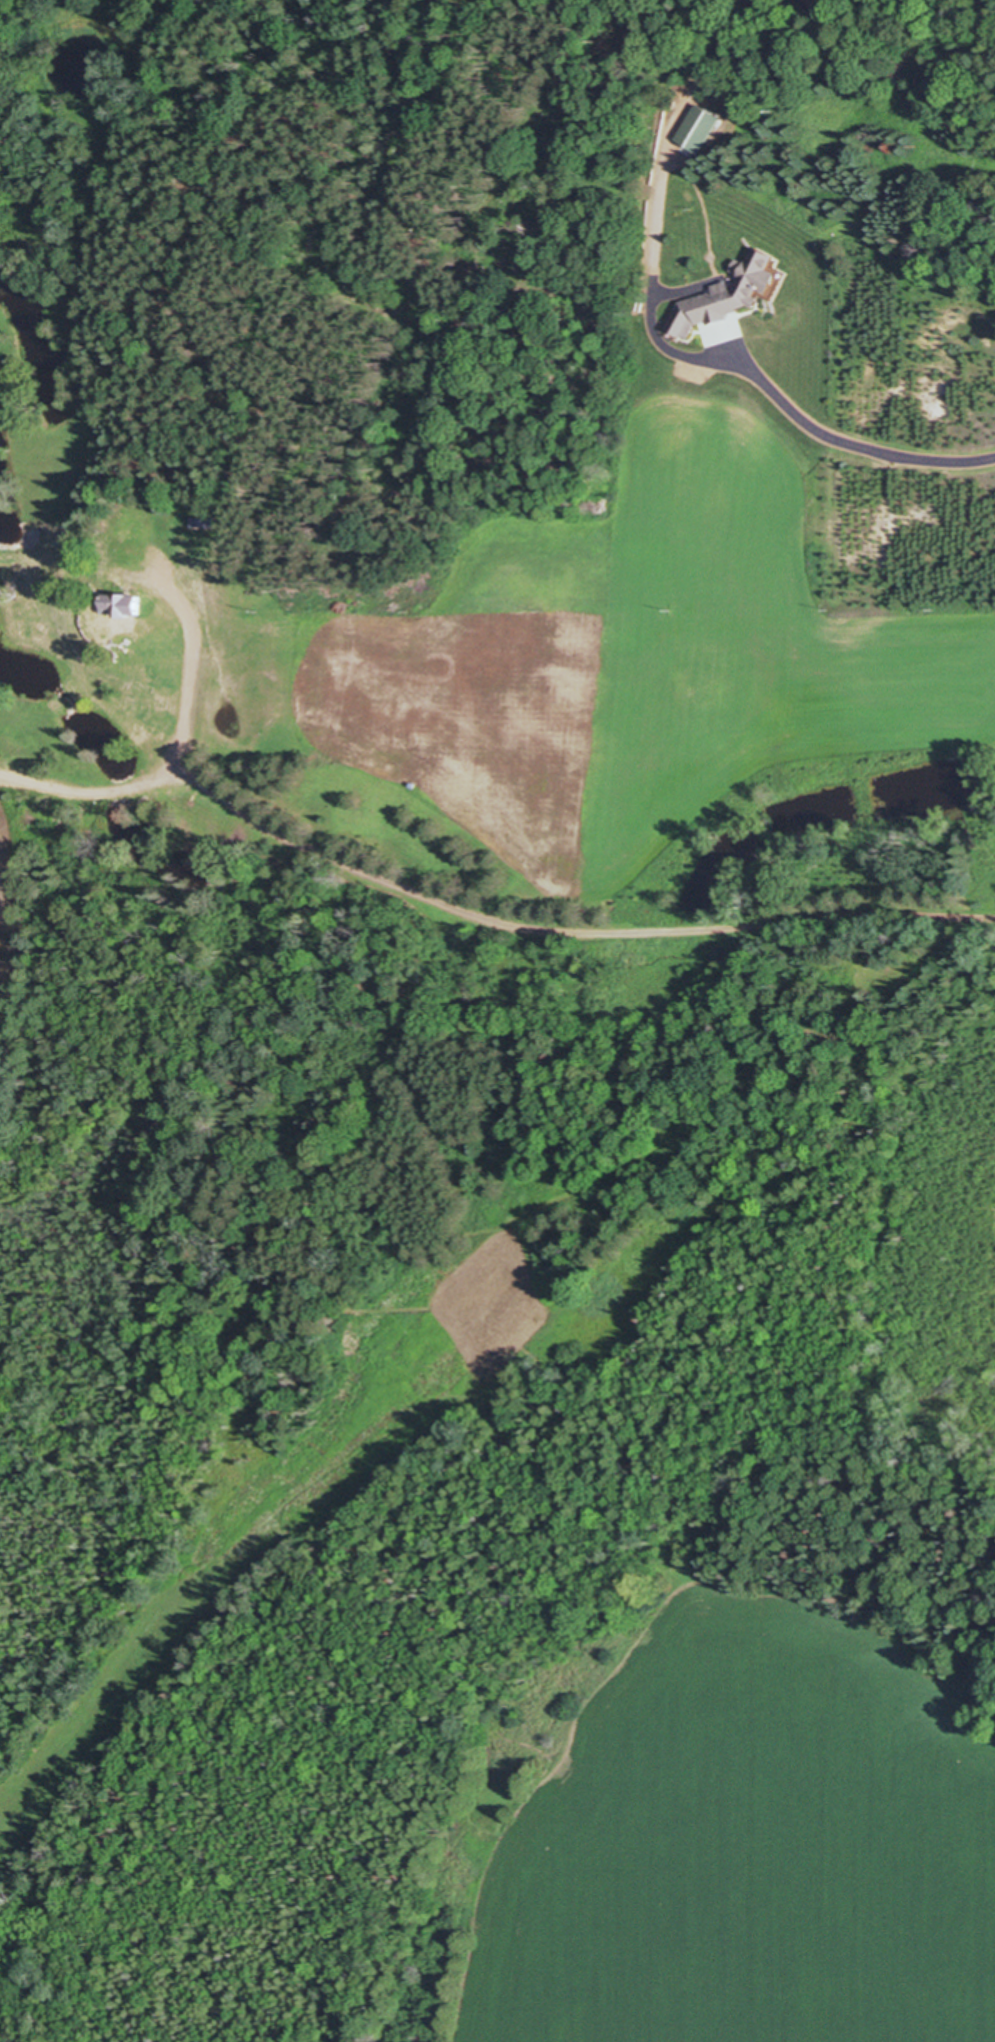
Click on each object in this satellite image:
building: (696, 129)
building: (724, 295)
road: (748, 367)
building: (55, 545)
building: (119, 606)
building: (156, 606)
road: (85, 672)
road: (98, 788)
road: (579, 933)

